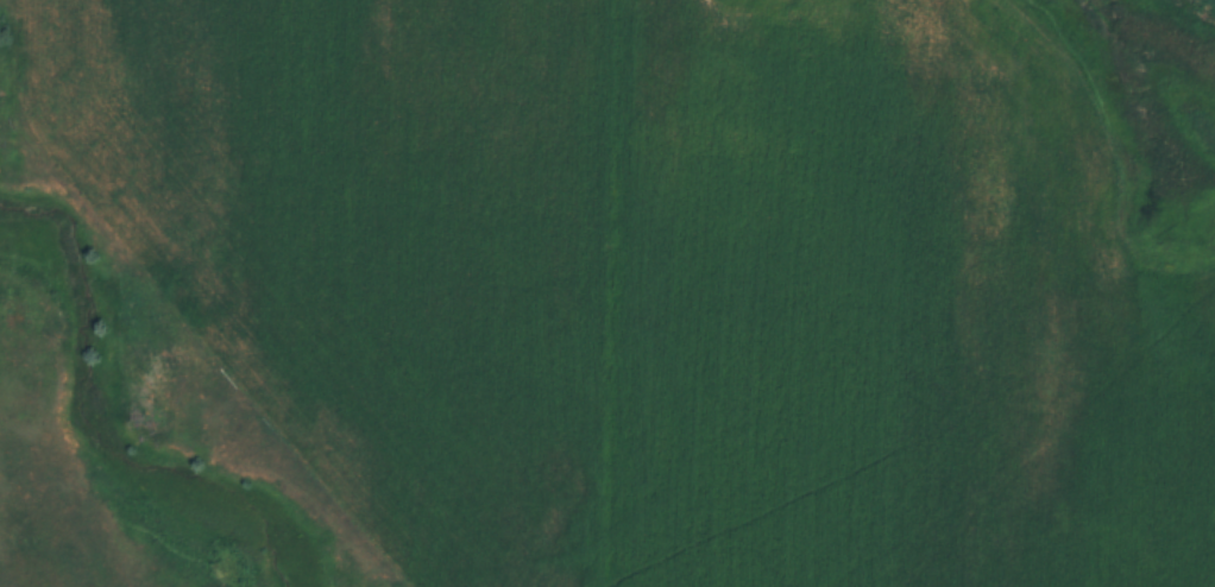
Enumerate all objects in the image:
crop: (653, 280)

